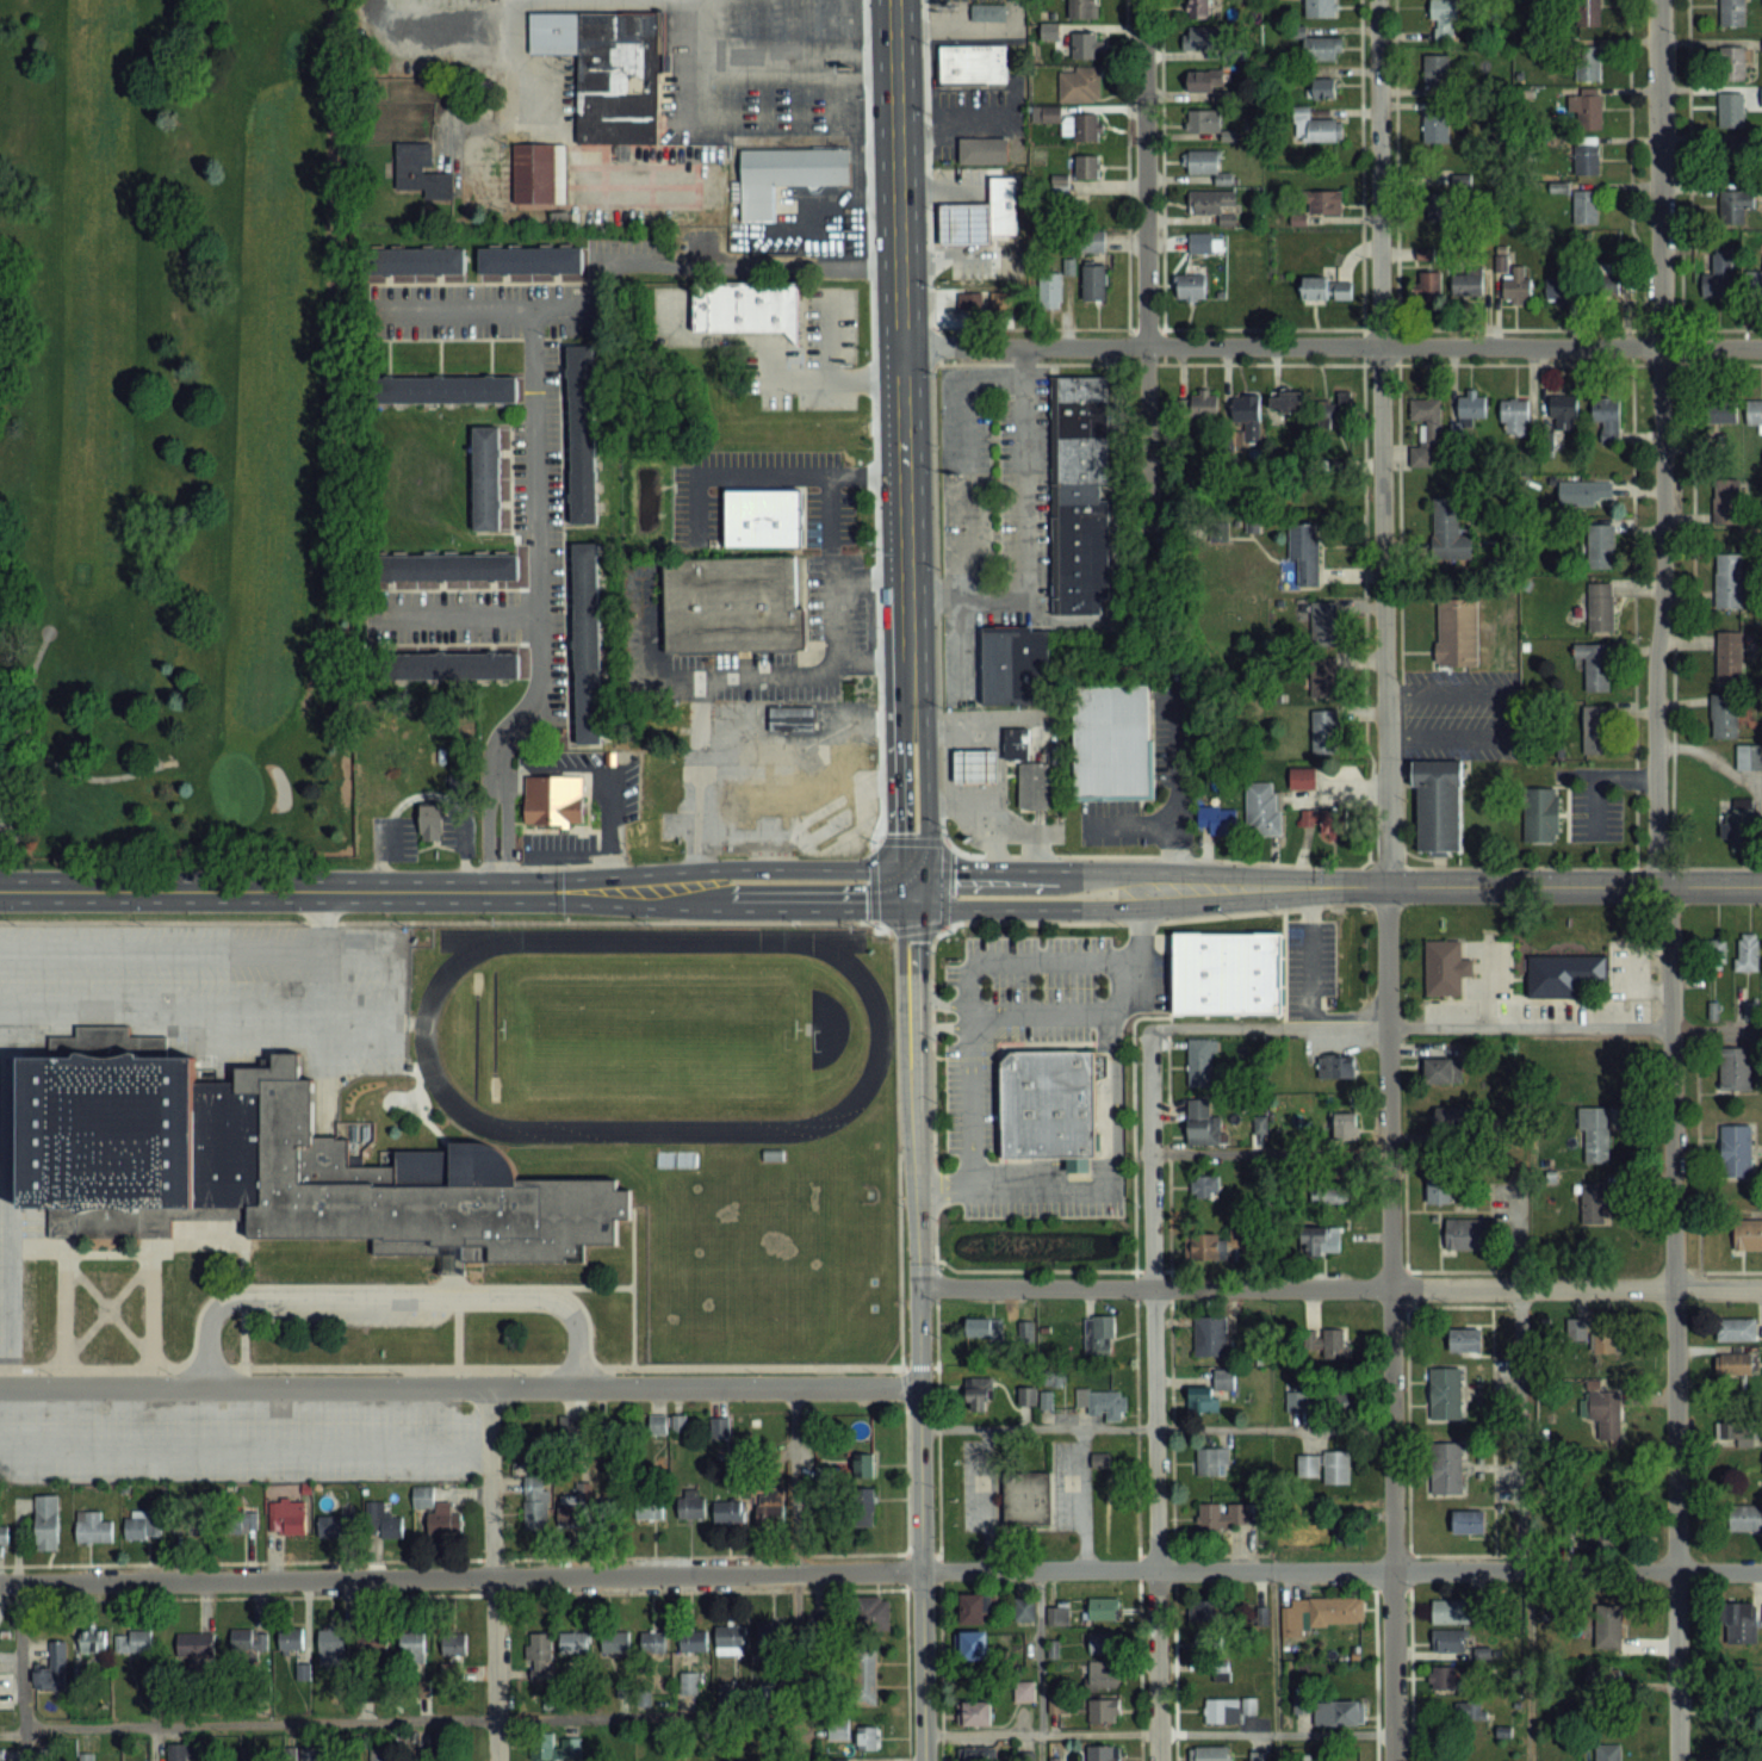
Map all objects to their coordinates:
building: (1082, 8)
building: (1321, 8)
building: (1199, 10)
building: (986, 11)
building: (1732, 12)
building: (1589, 17)
building: (1444, 21)
building: (1199, 38)
building: (1086, 46)
building: (1322, 49)
building: (970, 63)
building: (1588, 63)
building: (1732, 63)
building: (608, 69)
building: (1437, 69)
road: (767, 72)
building: (1203, 81)
building: (1080, 83)
building: (1323, 88)
building: (1731, 108)
building: (1587, 112)
road: (758, 117)
building: (1204, 120)
building: (1086, 126)
building: (1437, 126)
building: (1315, 129)
building: (981, 149)
building: (1736, 153)
building: (1587, 156)
building: (1202, 161)
building: (1087, 167)
building: (421, 172)
building: (538, 172)
building: (784, 174)
building: (1441, 193)
building: (1327, 200)
building: (1214, 203)
building: (1586, 206)
building: (1737, 207)
building: (964, 223)
building: (997, 224)
building: (1092, 241)
building: (1200, 242)
building: (1425, 253)
building: (411, 260)
building: (529, 260)
road: (1146, 263)
road: (701, 265)
building: (1720, 273)
building: (1608, 280)
building: (1093, 283)
building: (1468, 283)
building: (1516, 283)
building: (1755, 284)
building: (1191, 286)
building: (1428, 286)
road: (901, 287)
building: (1050, 290)
building: (1327, 290)
building: (1558, 291)
building: (987, 302)
building: (745, 305)
road: (829, 336)
road: (1332, 346)
road: (814, 380)
building: (439, 389)
building: (1286, 399)
building: (1202, 404)
building: (1471, 407)
building: (1336, 411)
building: (1564, 411)
building: (1720, 411)
building: (1754, 411)
building: (1248, 414)
building: (1515, 414)
building: (1427, 417)
building: (1606, 421)
park: (175, 432)
building: (581, 434)
building: (1420, 457)
road: (767, 475)
building: (433, 477)
building: (485, 477)
road: (538, 483)
building: (1584, 492)
building: (1078, 494)
building: (1727, 501)
building: (762, 517)
road: (830, 526)
road: (1022, 528)
building: (1448, 531)
building: (1600, 546)
building: (1305, 553)
building: (439, 566)
road: (869, 577)
building: (1729, 581)
building: (732, 603)
building: (1601, 607)
road: (460, 613)
building: (1323, 624)
building: (1457, 632)
building: (585, 643)
road: (907, 650)
road: (871, 657)
building: (1730, 657)
building: (1013, 664)
building: (440, 665)
building: (1596, 668)
road: (737, 675)
building: (1323, 677)
road: (1504, 712)
building: (1724, 715)
building: (790, 719)
road: (955, 725)
building: (1597, 730)
building: (1324, 732)
building: (1109, 740)
building: (1015, 742)
road: (749, 754)
building: (1749, 757)
building: (974, 765)
road: (980, 765)
road: (69, 771)
road: (1594, 775)
road: (860, 777)
building: (1302, 777)
building: (1032, 783)
road: (1173, 787)
road: (497, 788)
road: (426, 793)
road: (898, 793)
building: (553, 798)
building: (1435, 804)
building: (1262, 810)
road: (923, 812)
road: (997, 813)
building: (1539, 813)
building: (1217, 820)
building: (432, 821)
building: (1327, 821)
road: (1130, 823)
road: (986, 825)
building: (1738, 826)
road: (610, 830)
road: (795, 867)
traffic signals: (899, 867)
road: (911, 867)
traffic signals: (923, 868)
road: (1034, 868)
road: (612, 870)
road: (495, 878)
road: (1662, 879)
road: (1385, 880)
road: (1451, 886)
road: (899, 887)
road: (349, 891)
traffic signals: (923, 906)
road: (1035, 906)
road: (807, 907)
traffic signals: (899, 907)
road: (319, 919)
road: (160, 948)
building: (1747, 951)
road: (1139, 954)
building: (1716, 954)
road: (978, 965)
building: (1443, 966)
building: (1561, 972)
building: (1227, 973)
road: (1311, 988)
road: (947, 1004)
road: (191, 1011)
road: (923, 1011)
road: (1040, 1011)
road: (901, 1012)
road: (947, 1024)
road: (1453, 1025)
park: (651, 1034)
track: (877, 1037)
building: (1200, 1061)
building: (1336, 1067)
building: (1736, 1067)
building: (1443, 1069)
road: (1111, 1093)
building: (1048, 1104)
building: (1451, 1118)
building: (1203, 1122)
building: (1344, 1126)
building: (1595, 1135)
road: (1268, 1149)
building: (1736, 1149)
road: (970, 1155)
building: (283, 1166)
road: (1016, 1186)
road: (8, 1189)
building: (1439, 1189)
building: (1205, 1191)
building: (1330, 1193)
building: (1593, 1203)
building: (1468, 1233)
building: (1748, 1234)
building: (1320, 1240)
building: (1205, 1246)
road: (1339, 1286)
road: (398, 1297)
building: (984, 1327)
building: (1737, 1327)
road: (209, 1331)
building: (1100, 1332)
building: (1210, 1335)
building: (1580, 1335)
road: (577, 1337)
building: (1465, 1340)
building: (1324, 1341)
road: (2, 1348)
building: (1735, 1363)
building: (1055, 1377)
road: (459, 1384)
building: (979, 1393)
building: (1209, 1393)
building: (1445, 1393)
building: (1026, 1395)
road: (1154, 1396)
building: (1297, 1401)
building: (1103, 1402)
building: (1606, 1416)
building: (161, 1421)
building: (678, 1422)
building: (570, 1425)
building: (657, 1425)
building: (720, 1427)
road: (1155, 1428)
building: (1735, 1432)
road: (919, 1438)
road: (246, 1459)
building: (1212, 1462)
building: (863, 1465)
building: (1327, 1467)
building: (1446, 1469)
road: (1522, 1471)
building: (1731, 1480)
building: (1605, 1487)
building: (1023, 1495)
building: (534, 1502)
building: (769, 1505)
building: (690, 1506)
building: (575, 1507)
building: (862, 1507)
building: (613, 1508)
building: (649, 1508)
building: (728, 1509)
building: (1223, 1515)
building: (287, 1518)
building: (1745, 1519)
building: (381, 1520)
building: (442, 1520)
building: (243, 1521)
building: (1469, 1521)
building: (46, 1523)
building: (199, 1523)
building: (335, 1525)
building: (1340, 1525)
building: (142, 1526)
building: (93, 1527)
building: (1606, 1536)
road: (880, 1569)
road: (494, 1571)
road: (793, 1574)
building: (975, 1606)
building: (1023, 1608)
building: (1104, 1608)
building: (1336, 1611)
building: (873, 1612)
building: (1206, 1612)
building: (1453, 1612)
building: (1057, 1613)
building: (1260, 1619)
building: (815, 1620)
building: (1292, 1622)
building: (1742, 1624)
building: (1609, 1626)
building: (771, 1632)
building: (730, 1638)
building: (1206, 1638)
building: (290, 1639)
building: (92, 1641)
building: (248, 1641)
building: (691, 1641)
building: (1448, 1641)
building: (132, 1642)
building: (372, 1642)
building: (615, 1642)
building: (1104, 1642)
building: (573, 1643)
building: (652, 1643)
building: (194, 1644)
building: (972, 1644)
building: (454, 1645)
building: (329, 1647)
building: (411, 1647)
building: (538, 1656)
road: (1037, 1664)
road: (1272, 1666)
building: (52, 1668)
building: (1215, 1669)
road: (17, 1673)
building: (1104, 1674)
building: (866, 1676)
building: (1441, 1678)
building: (688, 1682)
building: (730, 1692)
building: (1023, 1692)
building: (1056, 1705)
building: (1103, 1711)
building: (1222, 1711)
building: (975, 1713)
building: (1338, 1713)
building: (1471, 1713)
road: (408, 1718)
road: (1155, 1731)
building: (867, 1737)
building: (554, 1747)
building: (1607, 1751)
building: (1103, 1753)
building: (975, 1754)
building: (1209, 1754)
building: (176, 1756)
building: (1258, 1756)

